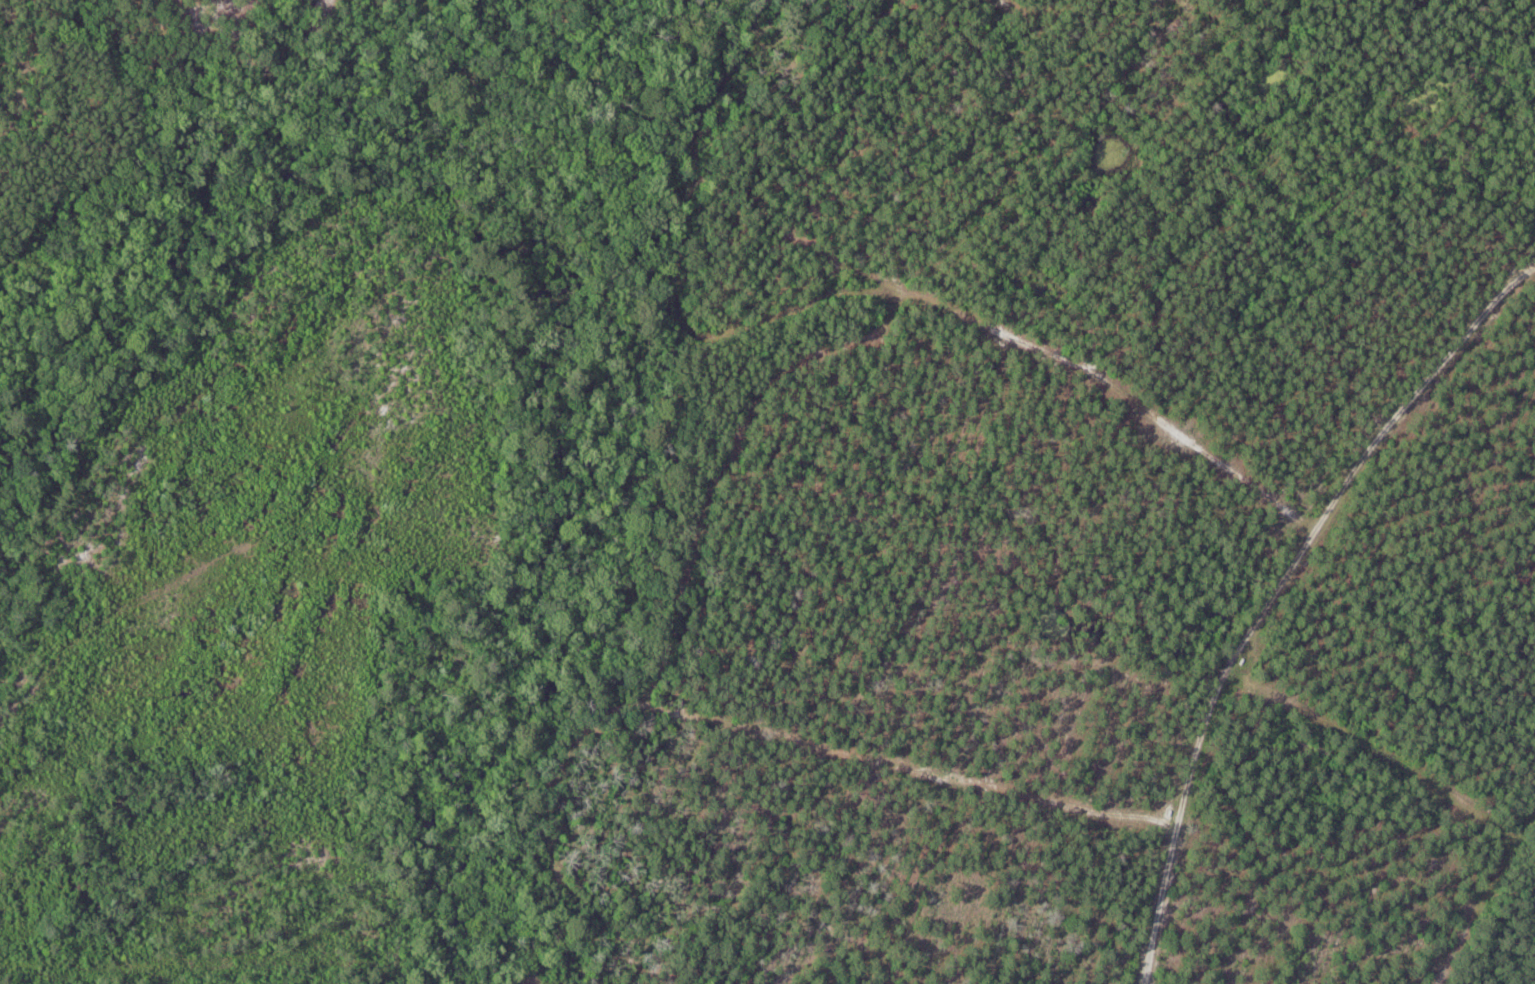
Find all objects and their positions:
road: (1099, 738)

